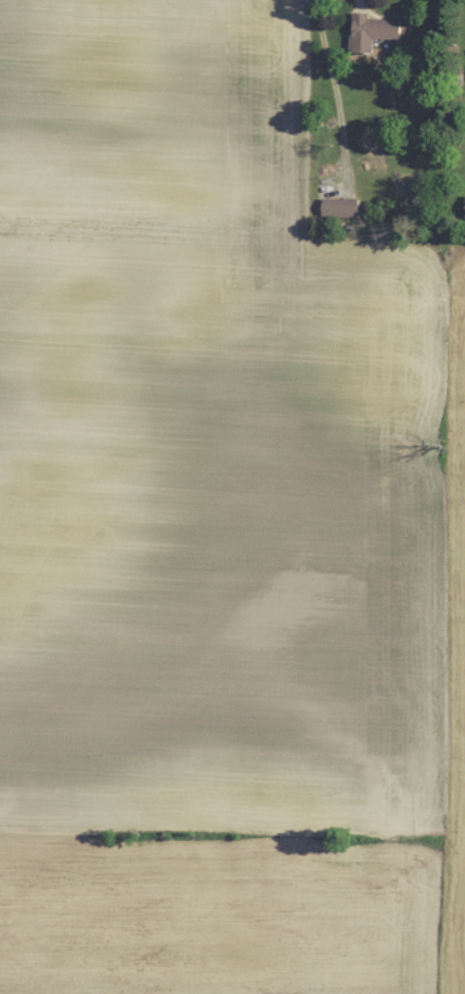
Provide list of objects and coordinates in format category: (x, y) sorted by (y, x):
building: (374, 32)
building: (342, 209)

